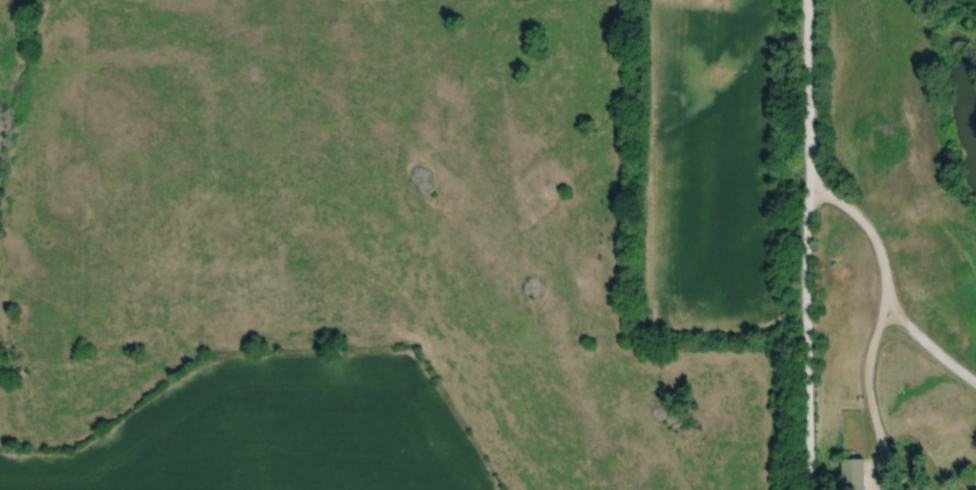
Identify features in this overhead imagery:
road: (807, 244)
road: (885, 320)
road: (931, 355)
building: (855, 473)

